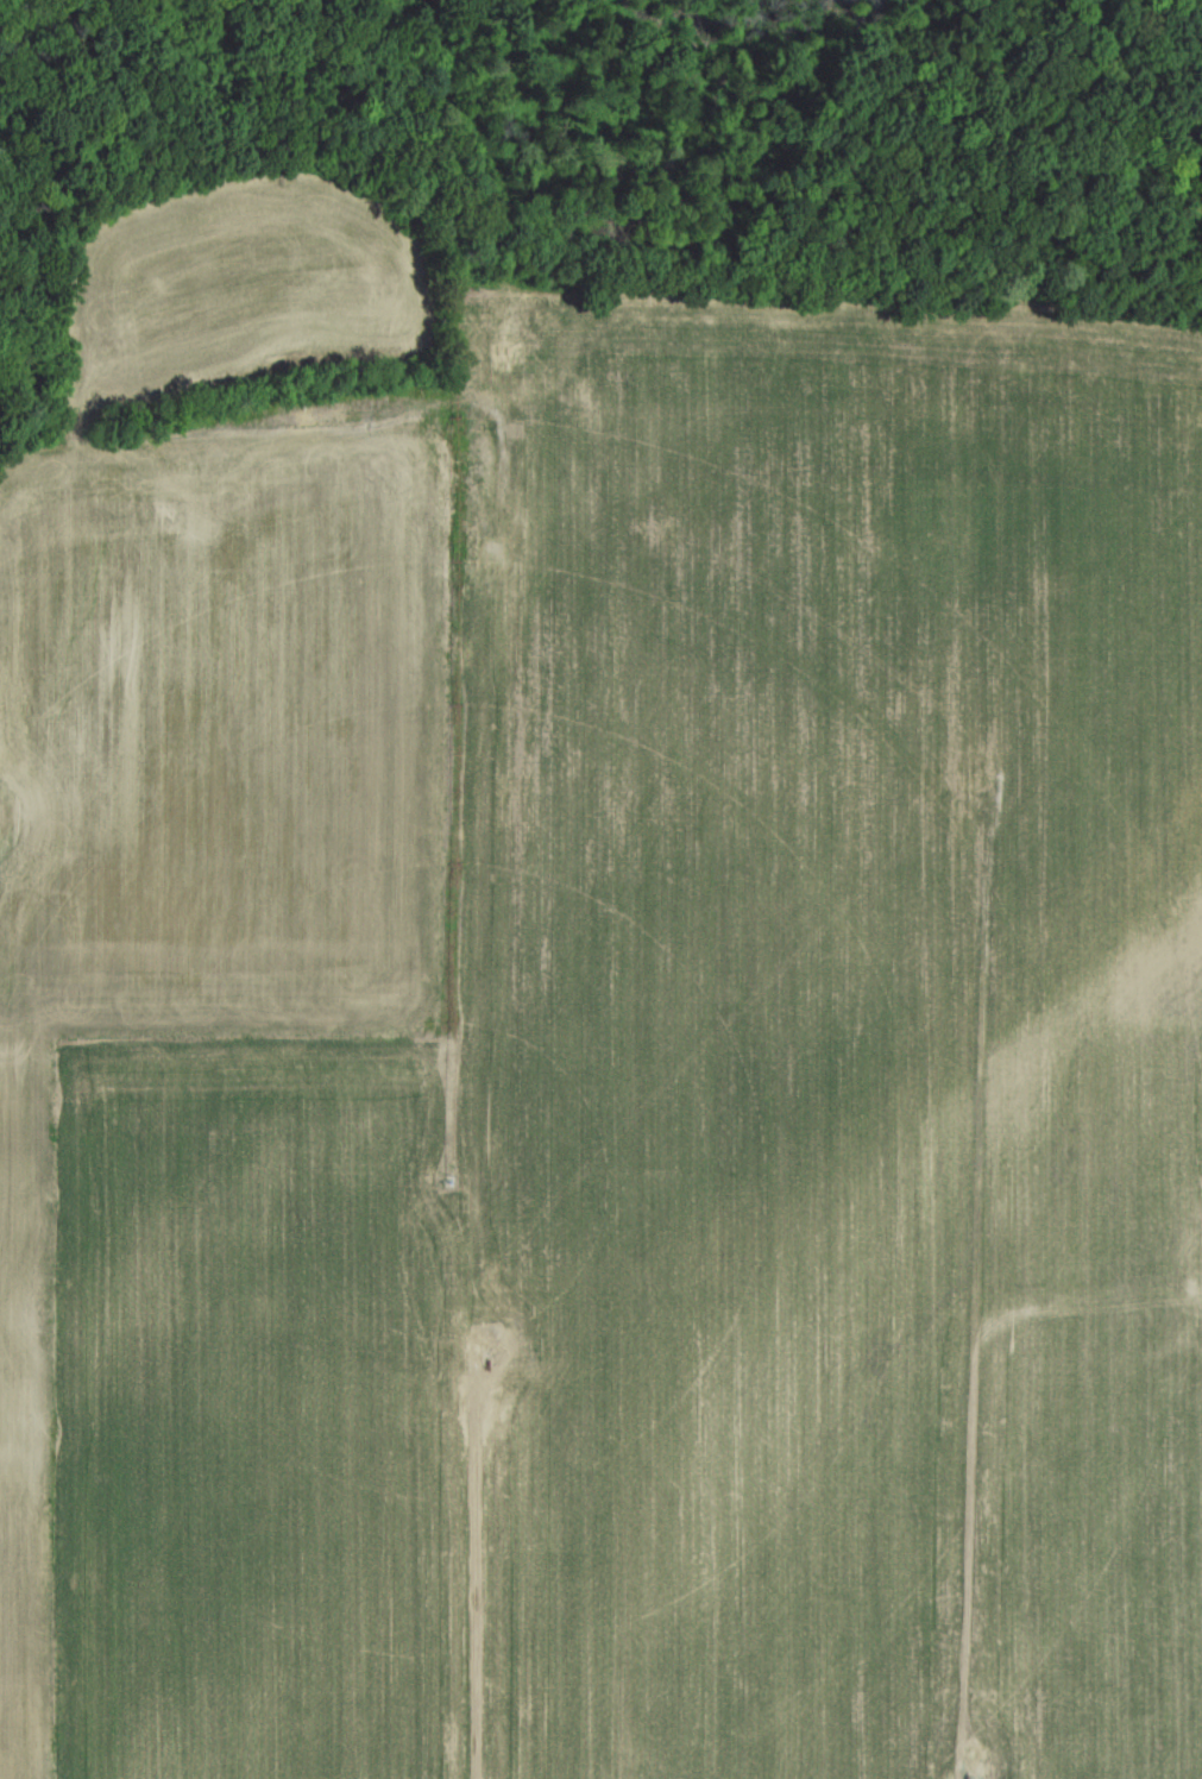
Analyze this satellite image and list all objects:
road: (496, 403)
road: (268, 433)
road: (503, 457)
road: (977, 1276)
road: (477, 1573)

